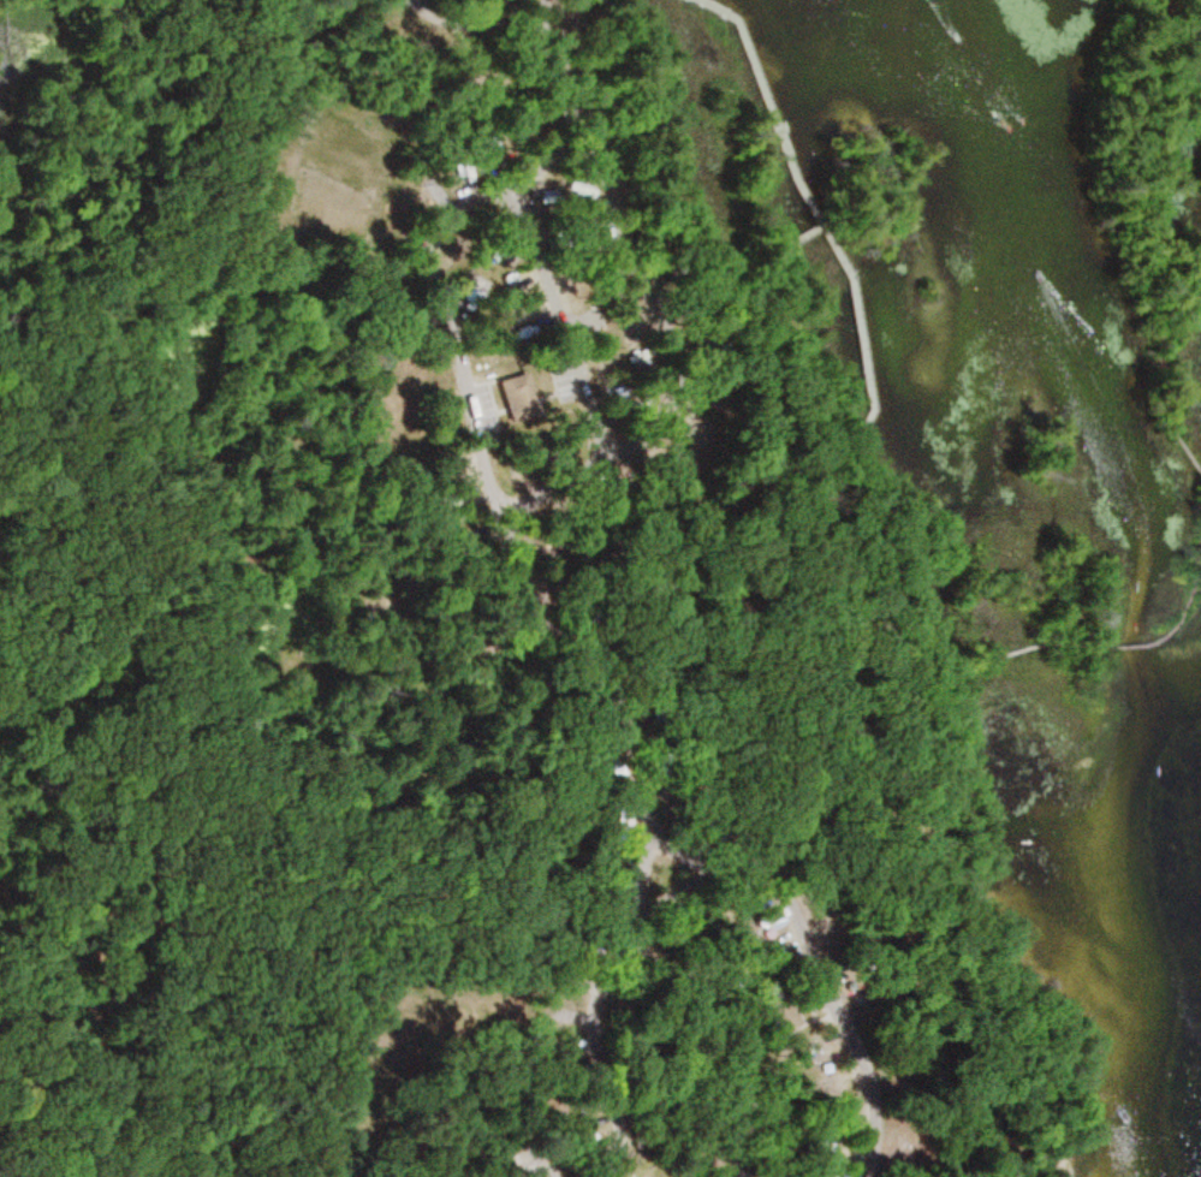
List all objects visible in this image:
road: (490, 12)
road: (488, 24)
road: (564, 85)
road: (539, 167)
road: (463, 209)
road: (819, 218)
road: (1141, 237)
road: (748, 280)
road: (680, 364)
building: (521, 398)
building: (692, 441)
road: (1200, 470)
park: (561, 569)
road: (363, 613)
road: (1184, 617)
road: (1135, 643)
road: (1009, 653)
road: (599, 660)
road: (944, 804)
road: (688, 855)
road: (678, 890)
road: (739, 1030)
building: (825, 1082)
road: (172, 1098)
road: (541, 1165)

